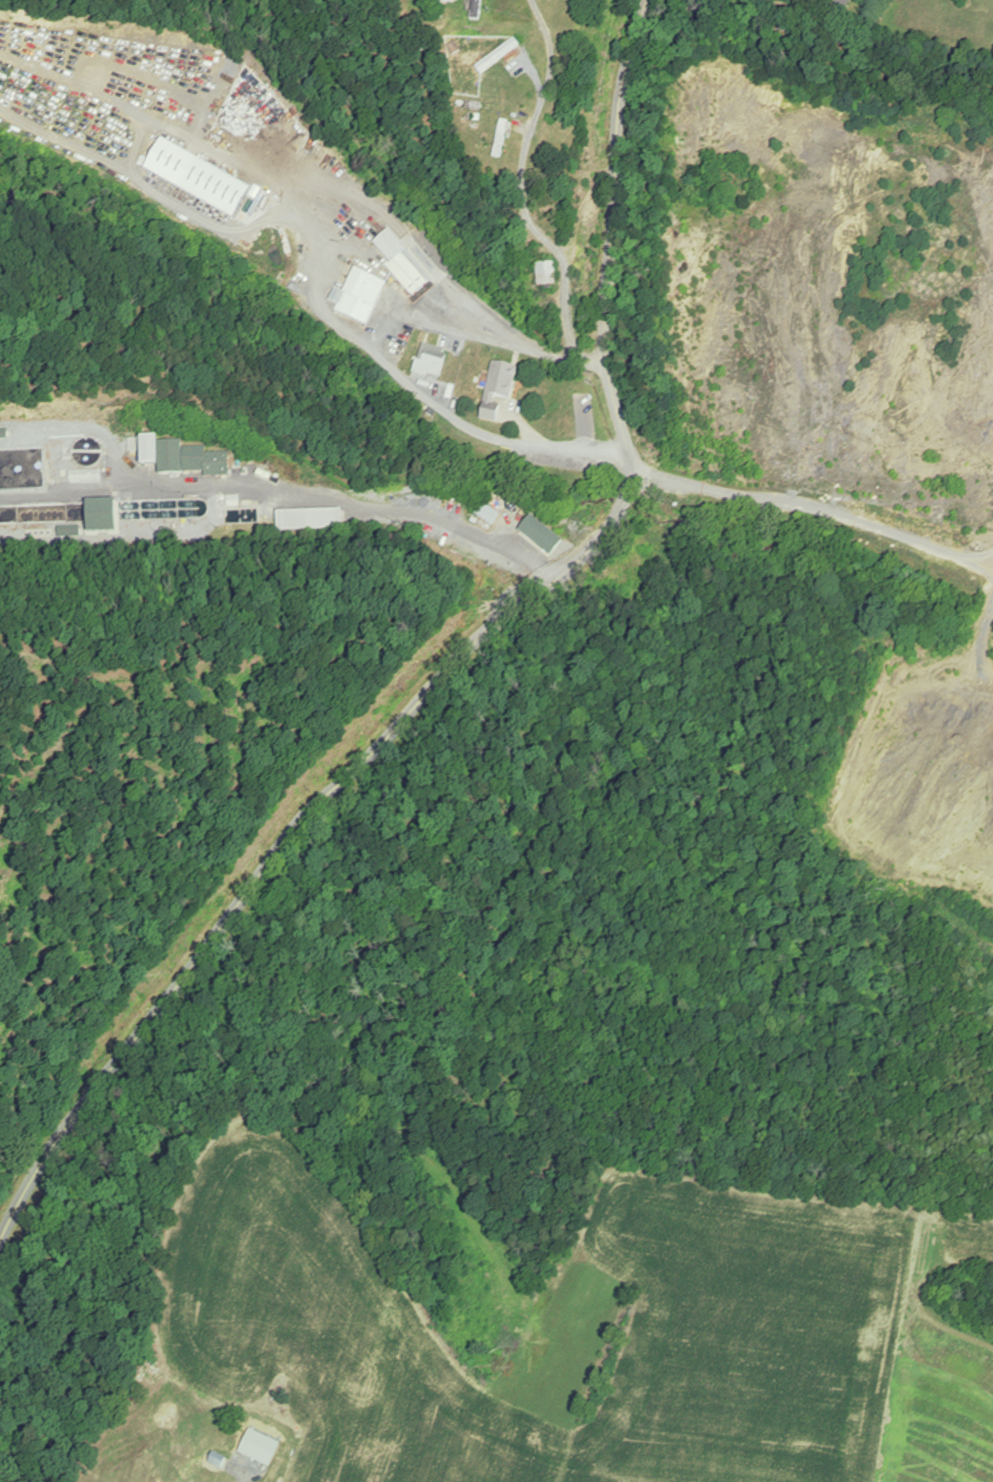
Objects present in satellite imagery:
building: (450, 1)
building: (480, 9)
building: (500, 56)
road: (594, 141)
building: (216, 188)
road: (523, 196)
building: (402, 263)
building: (548, 274)
building: (361, 297)
road: (525, 349)
building: (433, 361)
road: (388, 362)
building: (500, 390)
road: (510, 442)
building: (151, 452)
building: (208, 461)
building: (88, 464)
road: (817, 502)
road: (399, 510)
building: (492, 511)
building: (548, 540)
road: (992, 573)
road: (456, 660)
building: (263, 1435)
road: (240, 1479)

